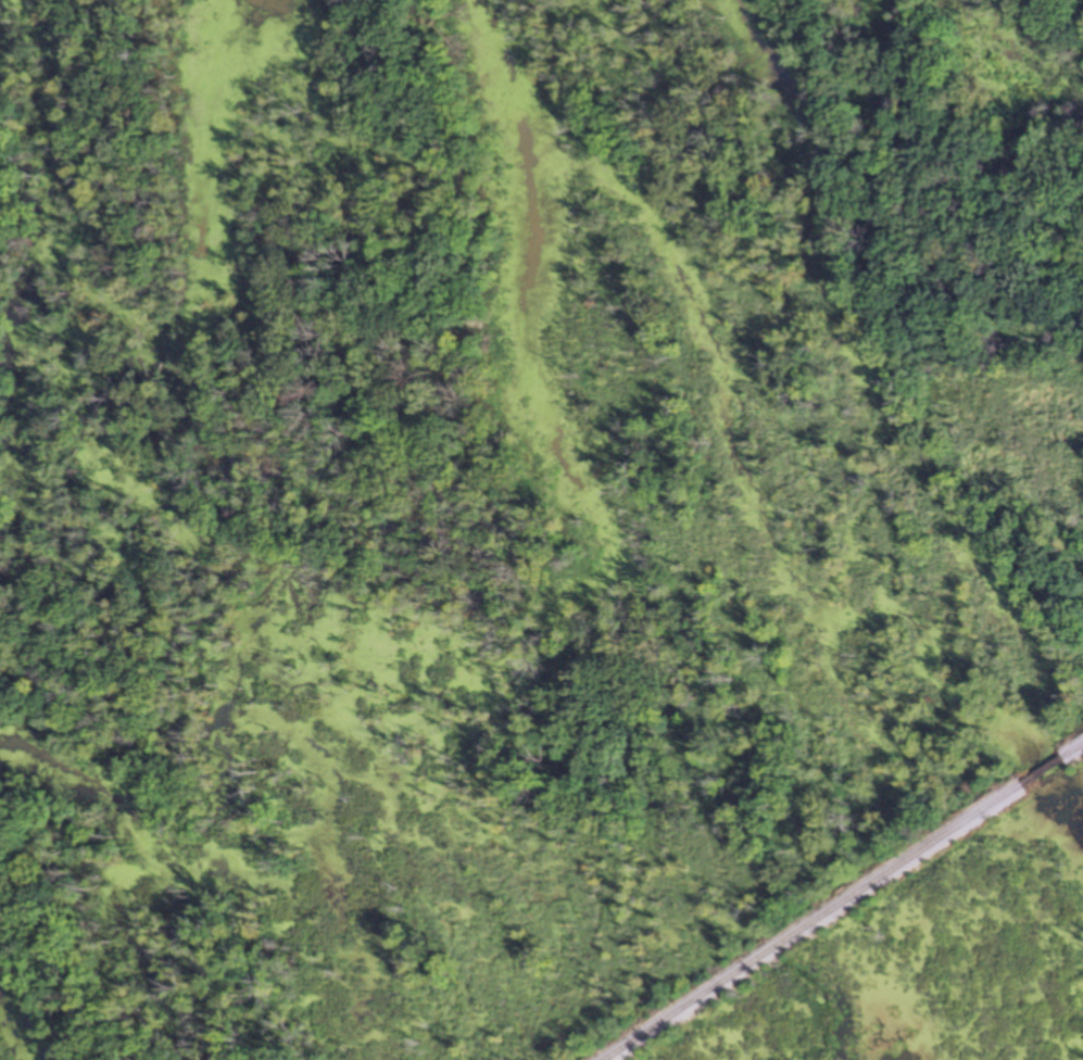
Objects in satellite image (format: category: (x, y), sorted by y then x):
railway: (1072, 749)
railway: (1041, 770)
railway: (813, 922)

